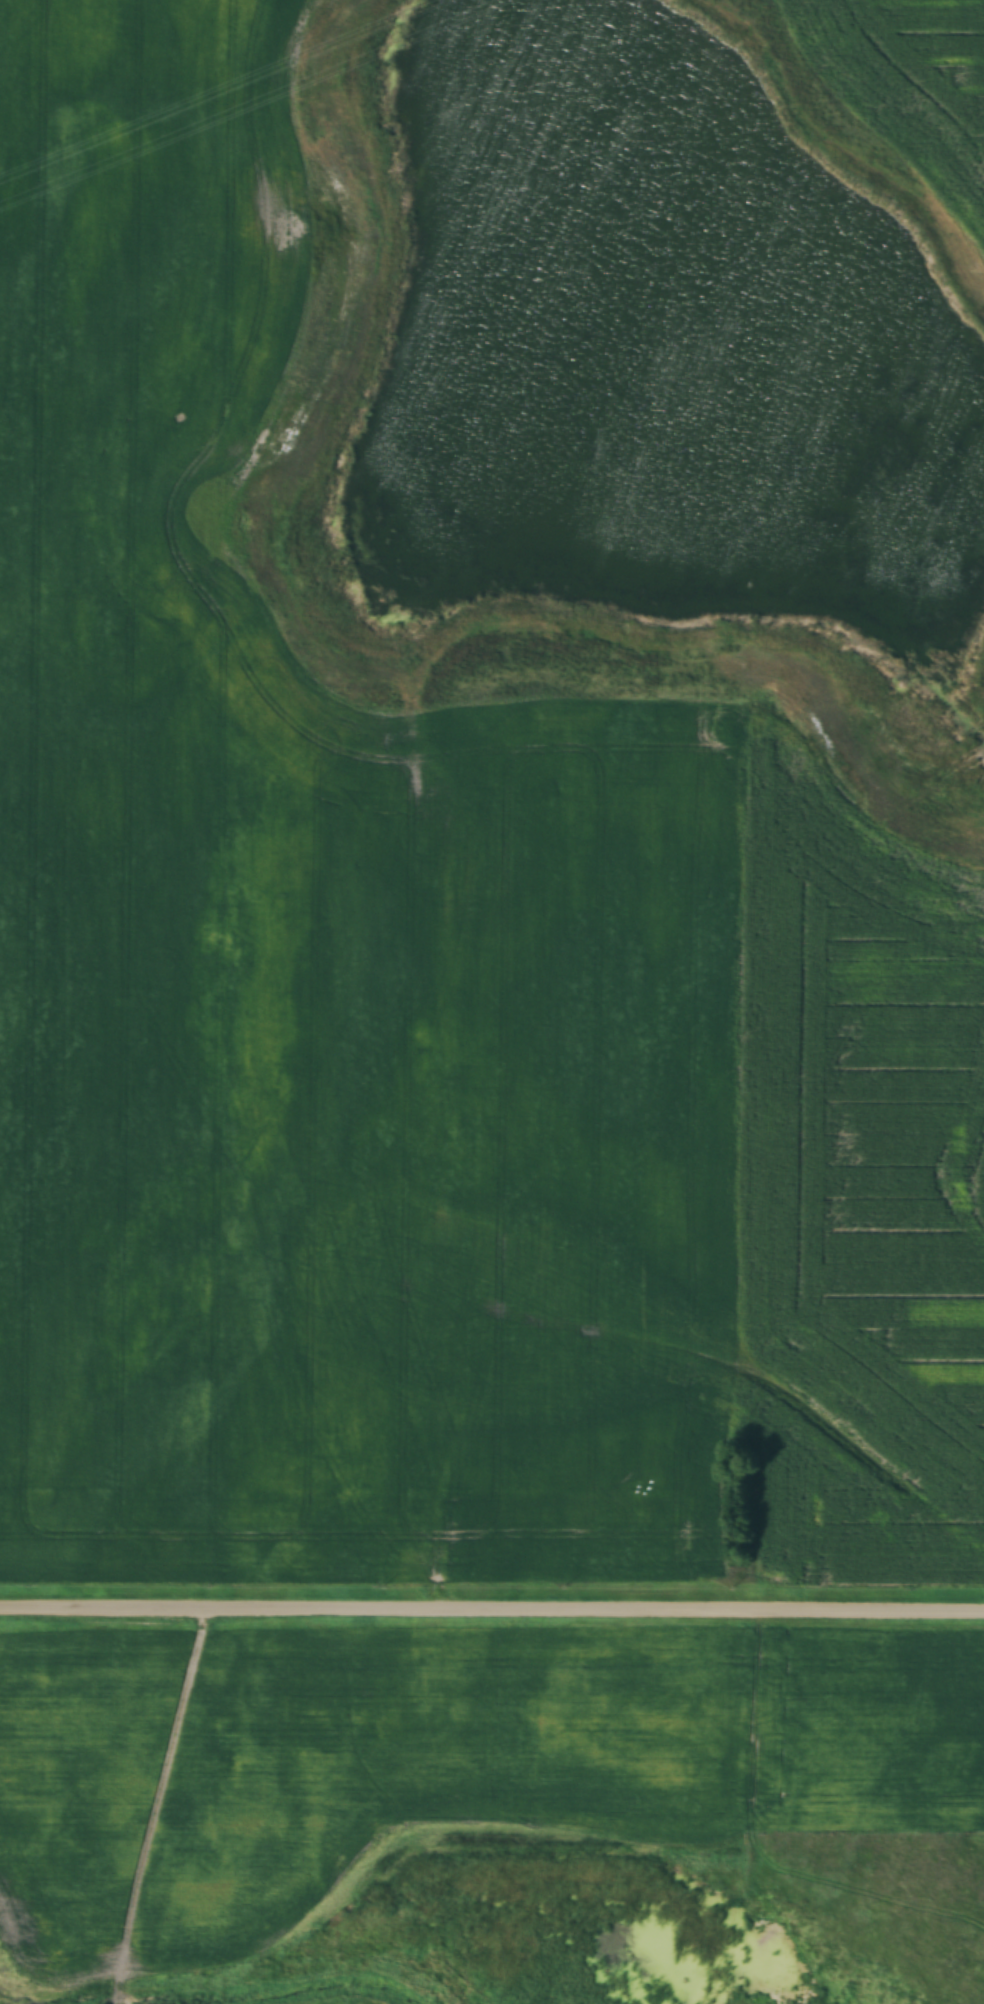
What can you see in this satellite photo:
road: (492, 1611)

